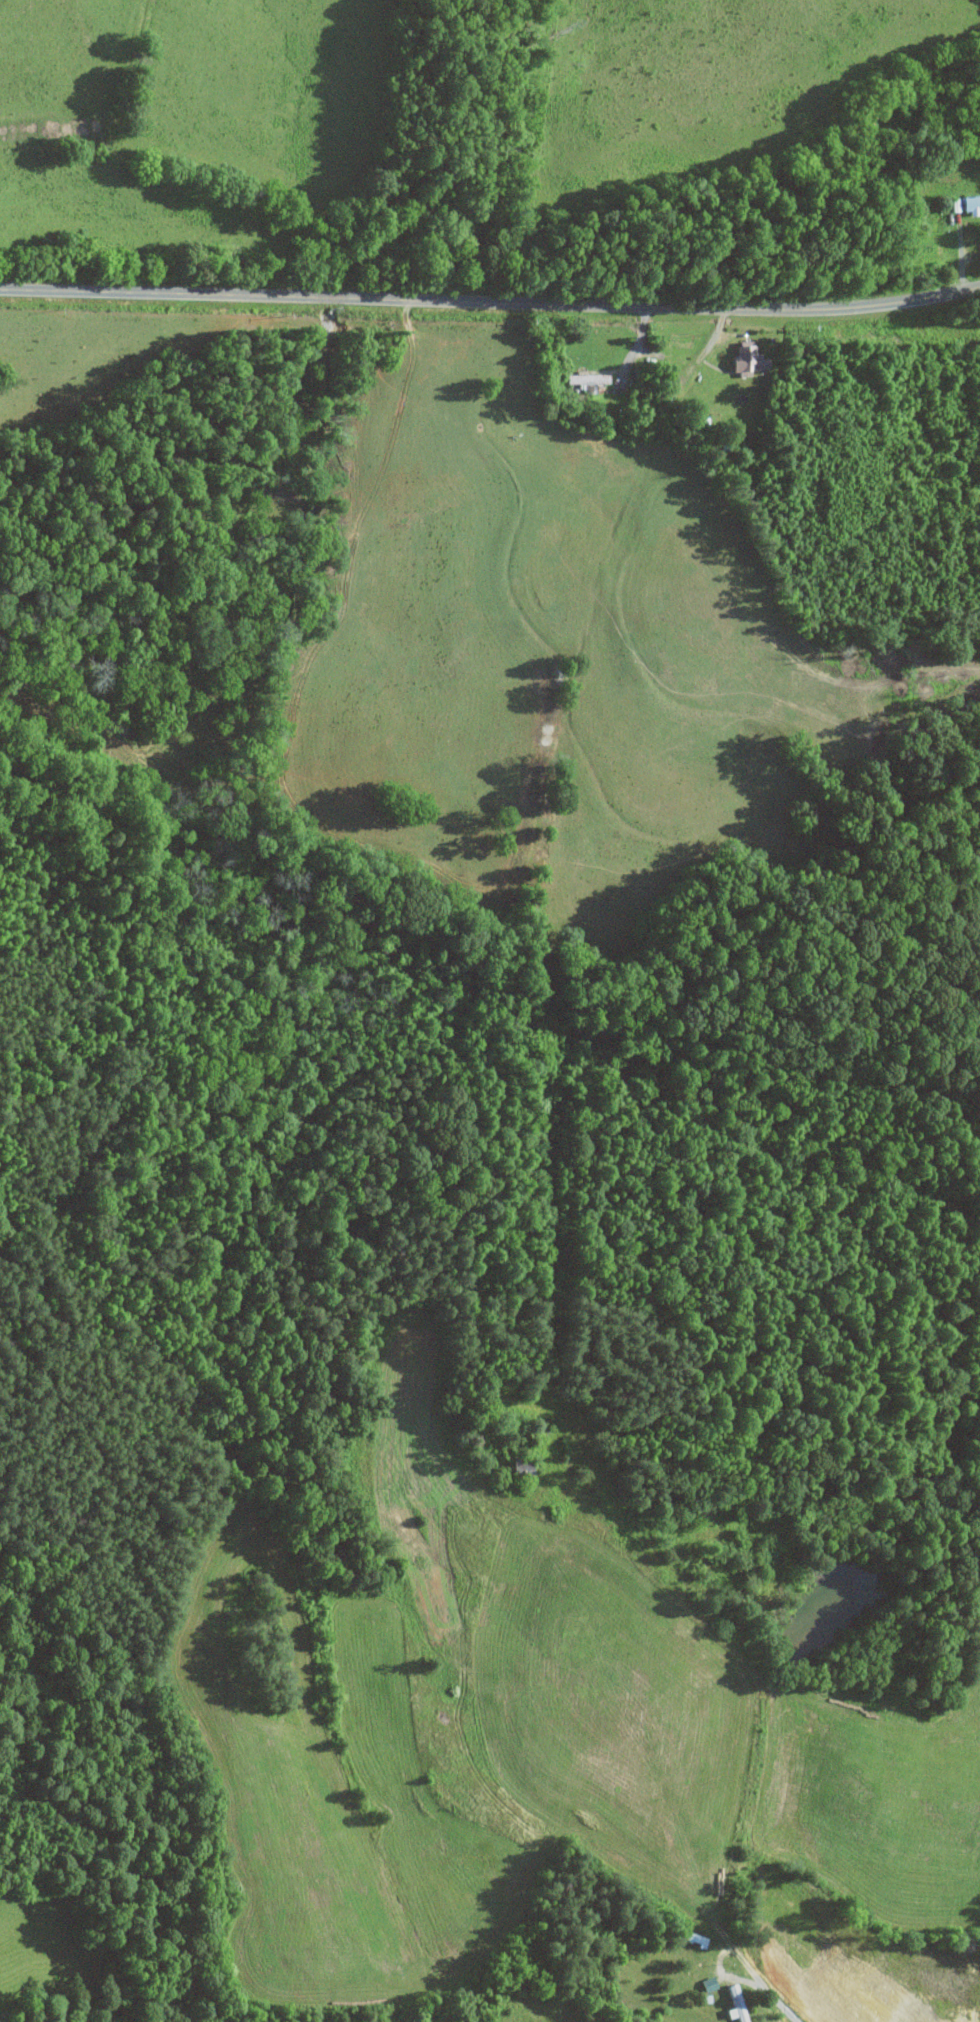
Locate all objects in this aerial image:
building: (969, 203)
road: (491, 309)
building: (745, 359)
building: (585, 378)
road: (767, 1732)
building: (733, 2004)

